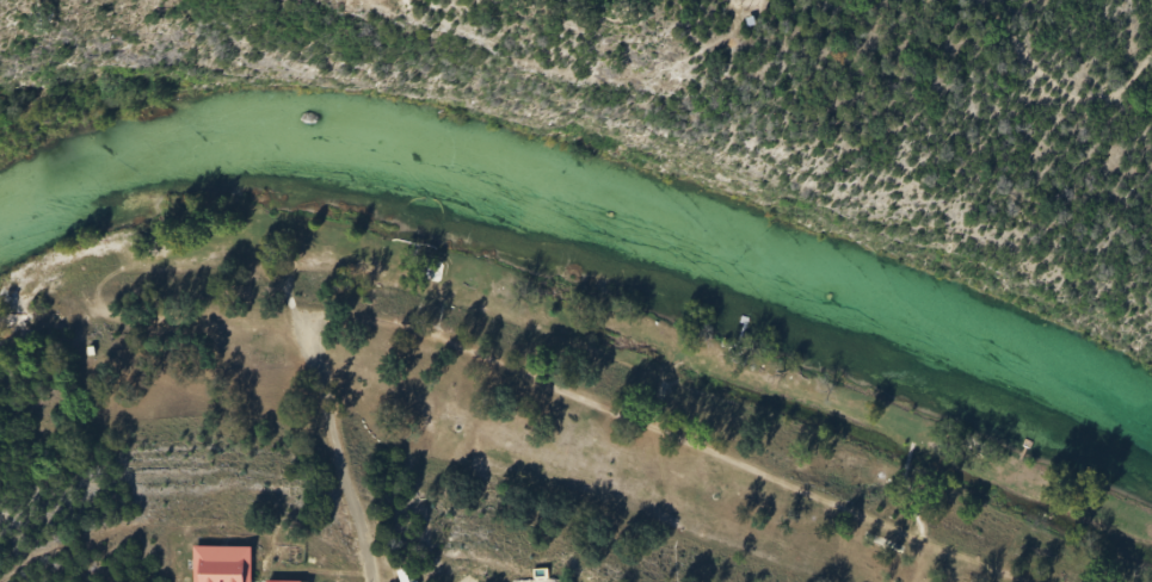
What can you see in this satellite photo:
river: (585, 217)
road: (14, 322)
building: (223, 564)
building: (290, 581)

